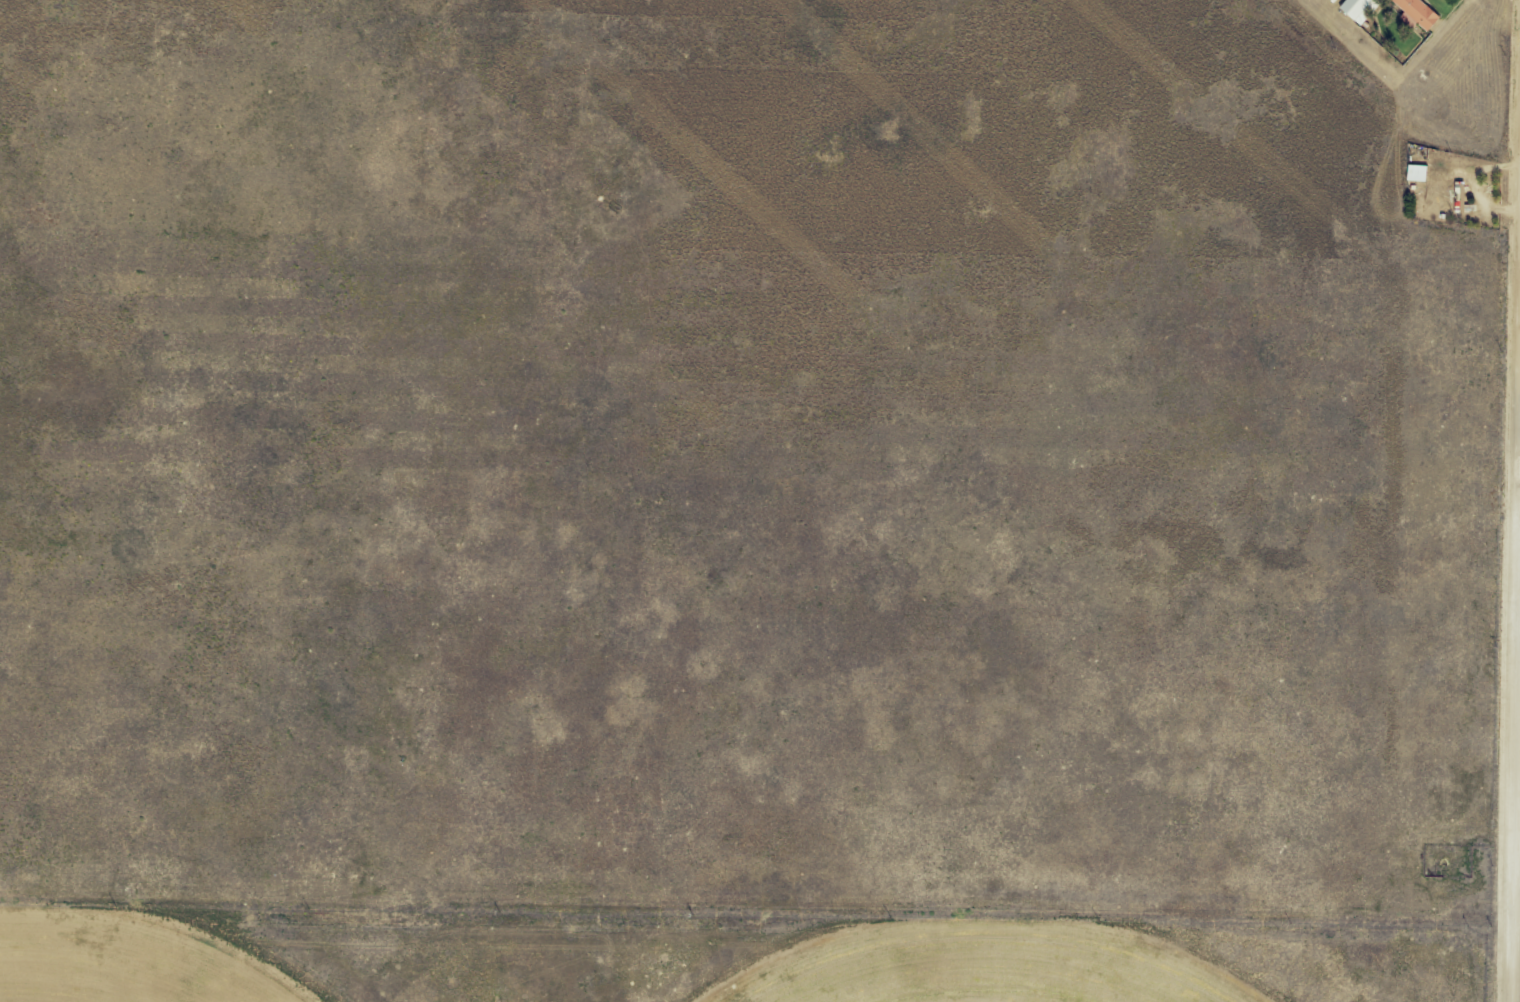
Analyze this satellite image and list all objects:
building: (1359, 9)
building: (1419, 13)
building: (1458, 198)
road: (1515, 758)

